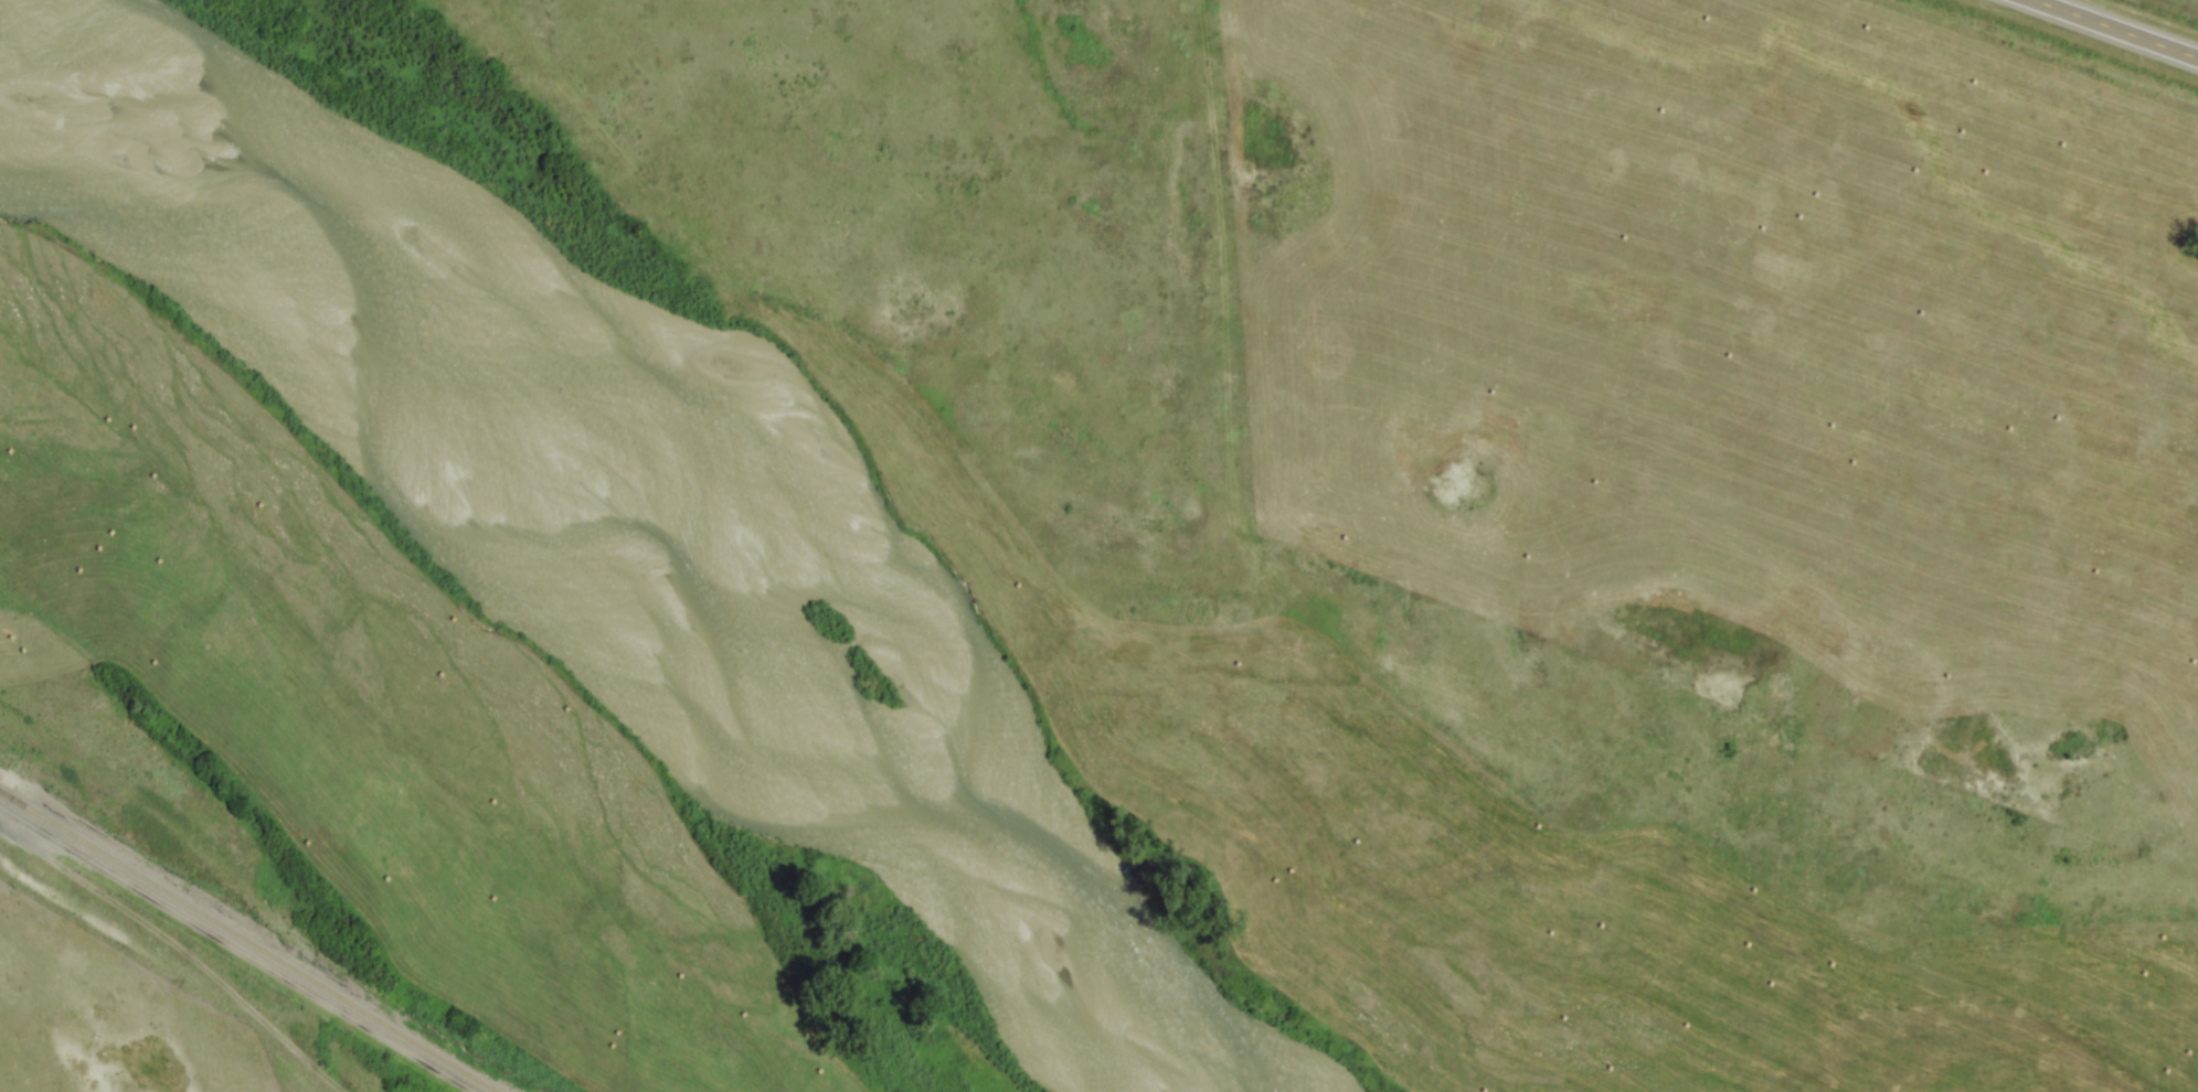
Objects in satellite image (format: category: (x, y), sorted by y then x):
road: (2109, 31)
river: (613, 539)
railway: (251, 940)

